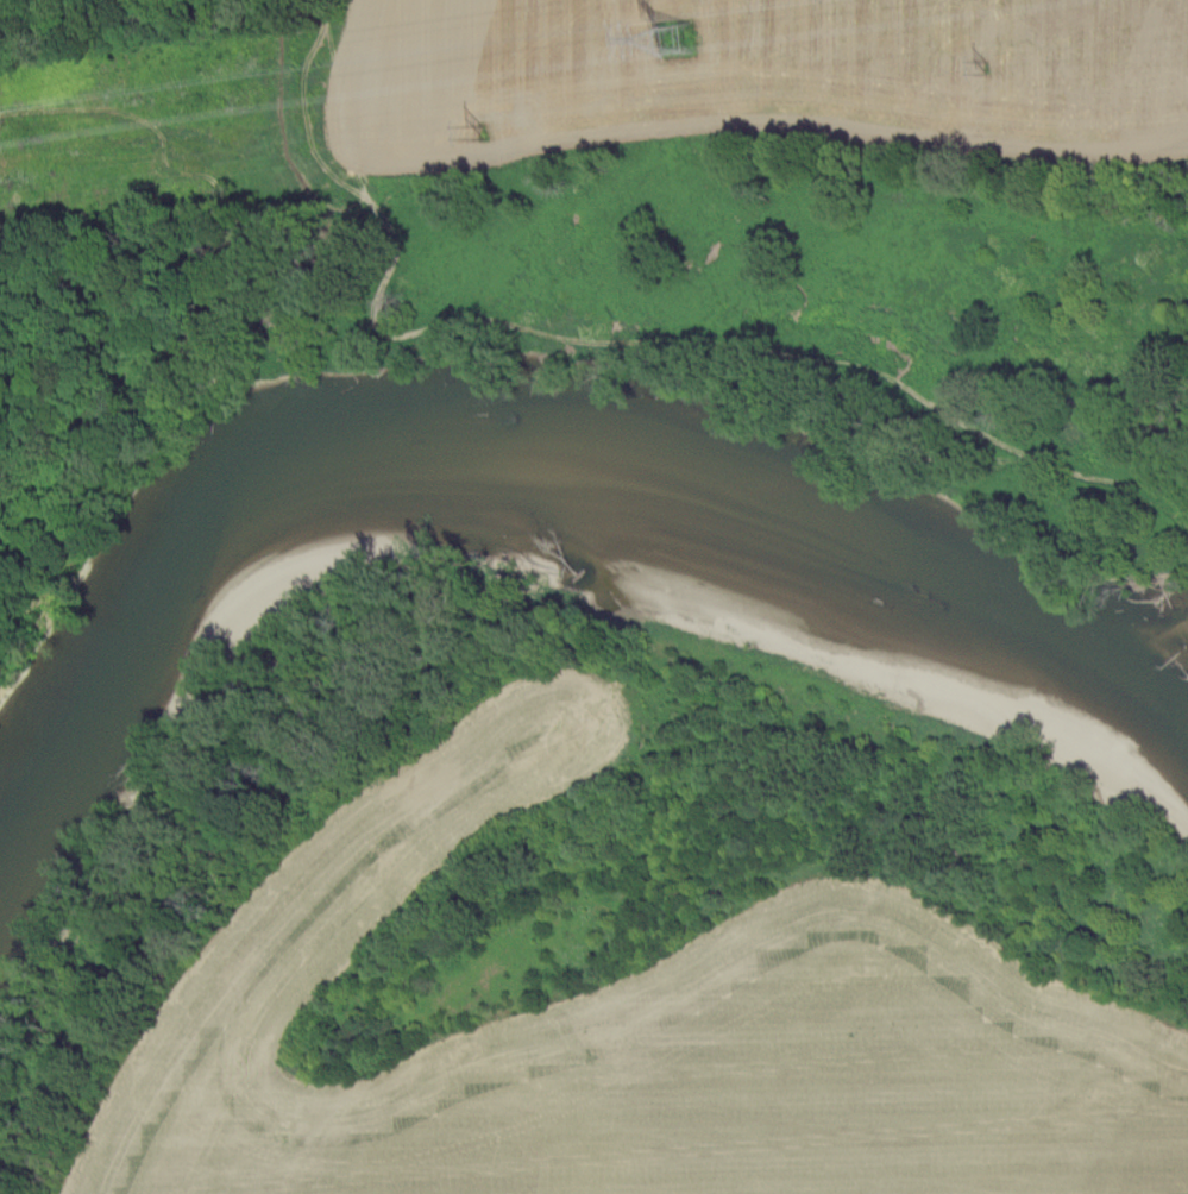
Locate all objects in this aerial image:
power tower: (679, 42)
river: (522, 454)

